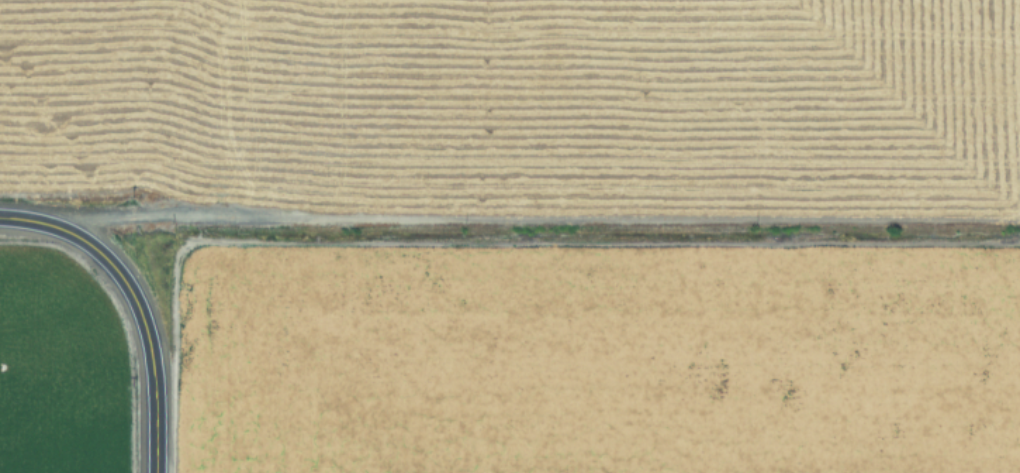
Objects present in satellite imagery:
crop: (549, 225)
road: (112, 325)
crop: (42, 405)

